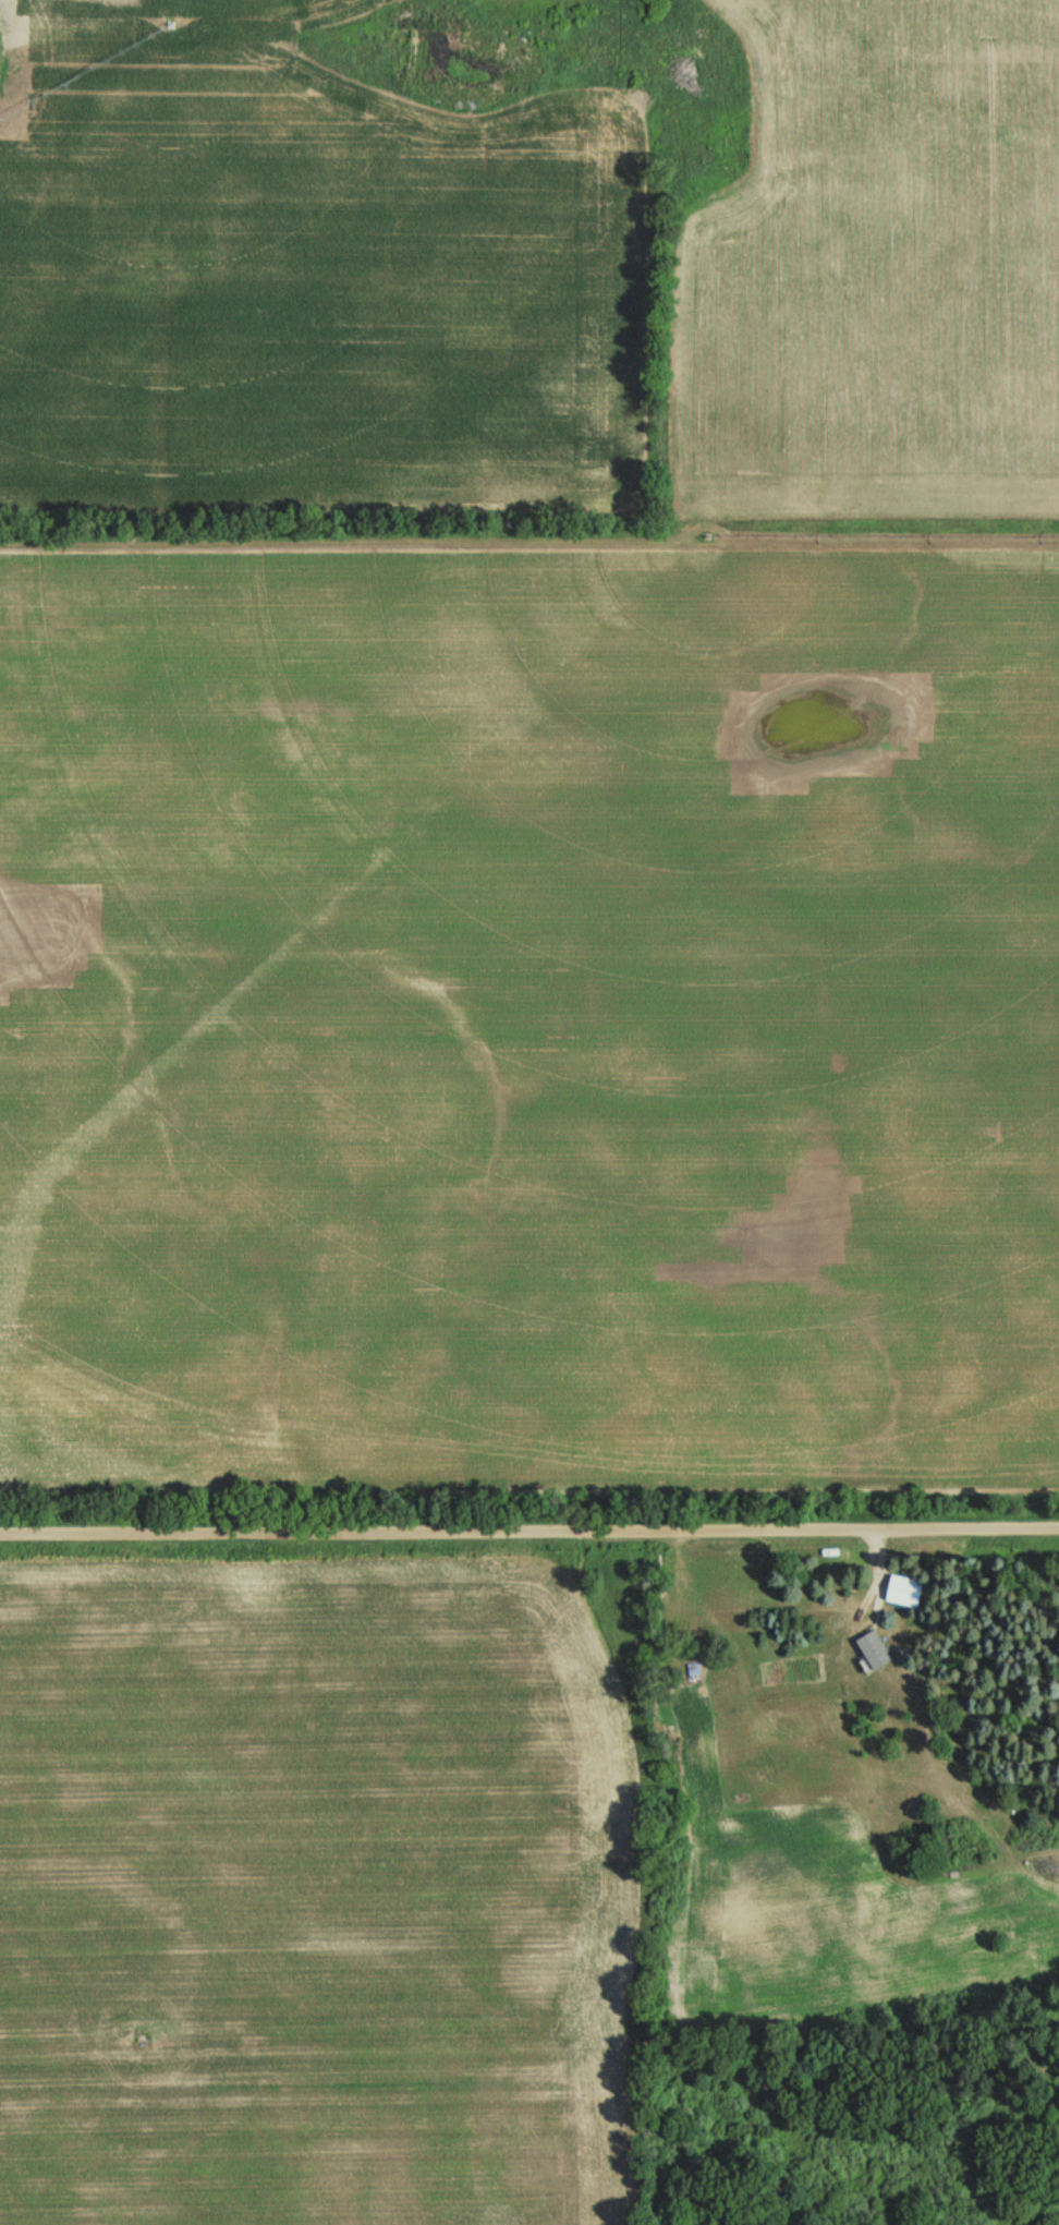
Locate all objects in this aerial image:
road: (529, 1522)
building: (903, 1591)
building: (872, 1650)
building: (691, 1671)

